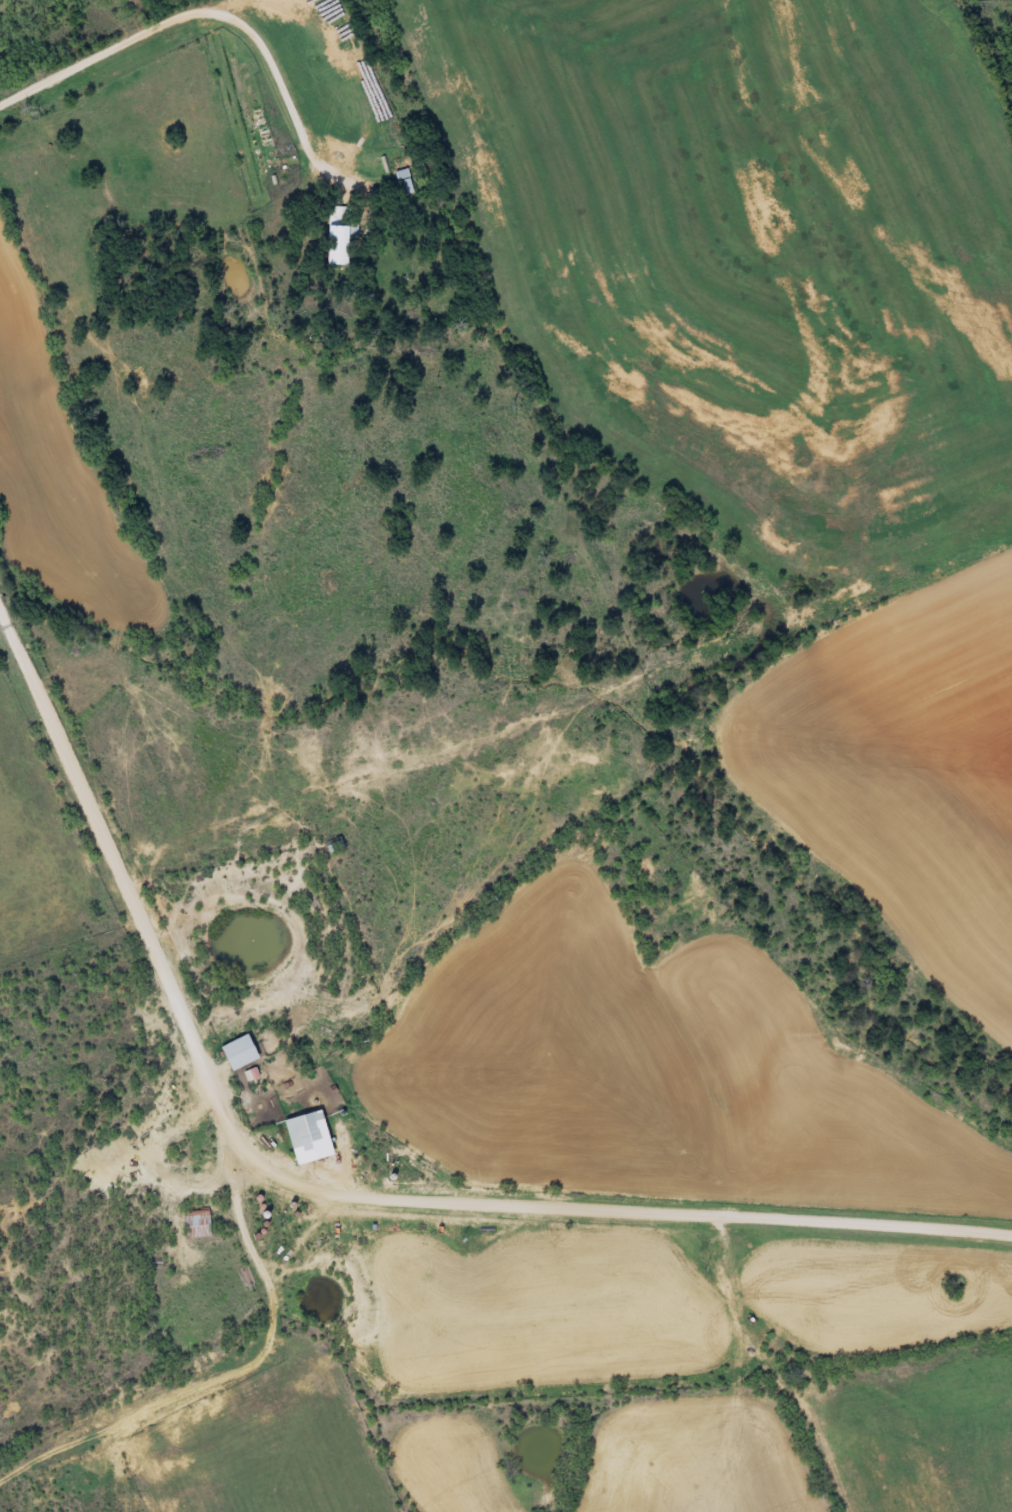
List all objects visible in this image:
road: (97, 53)
building: (405, 184)
building: (337, 235)
road: (547, 861)
building: (236, 1053)
building: (301, 1137)
road: (324, 1190)
building: (193, 1224)
road: (647, 1252)
road: (795, 1252)
road: (837, 1400)
road: (702, 1417)

